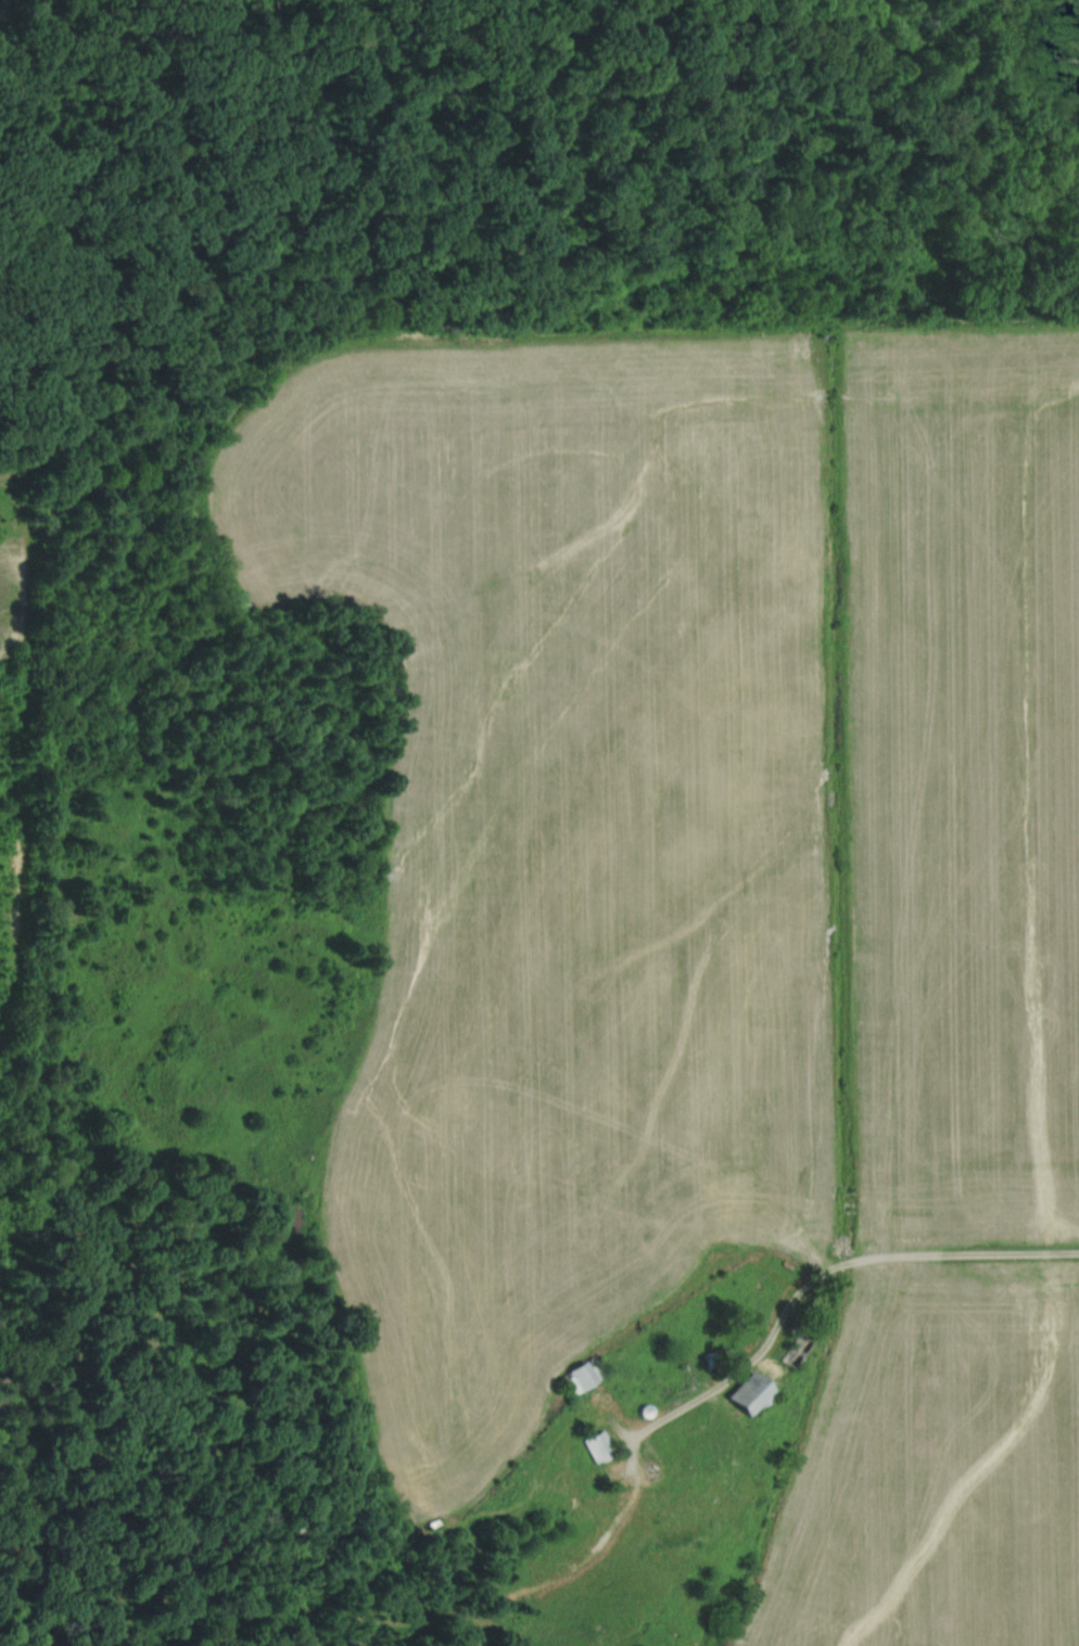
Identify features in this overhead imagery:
road: (906, 1260)
building: (749, 1399)
building: (595, 1446)

